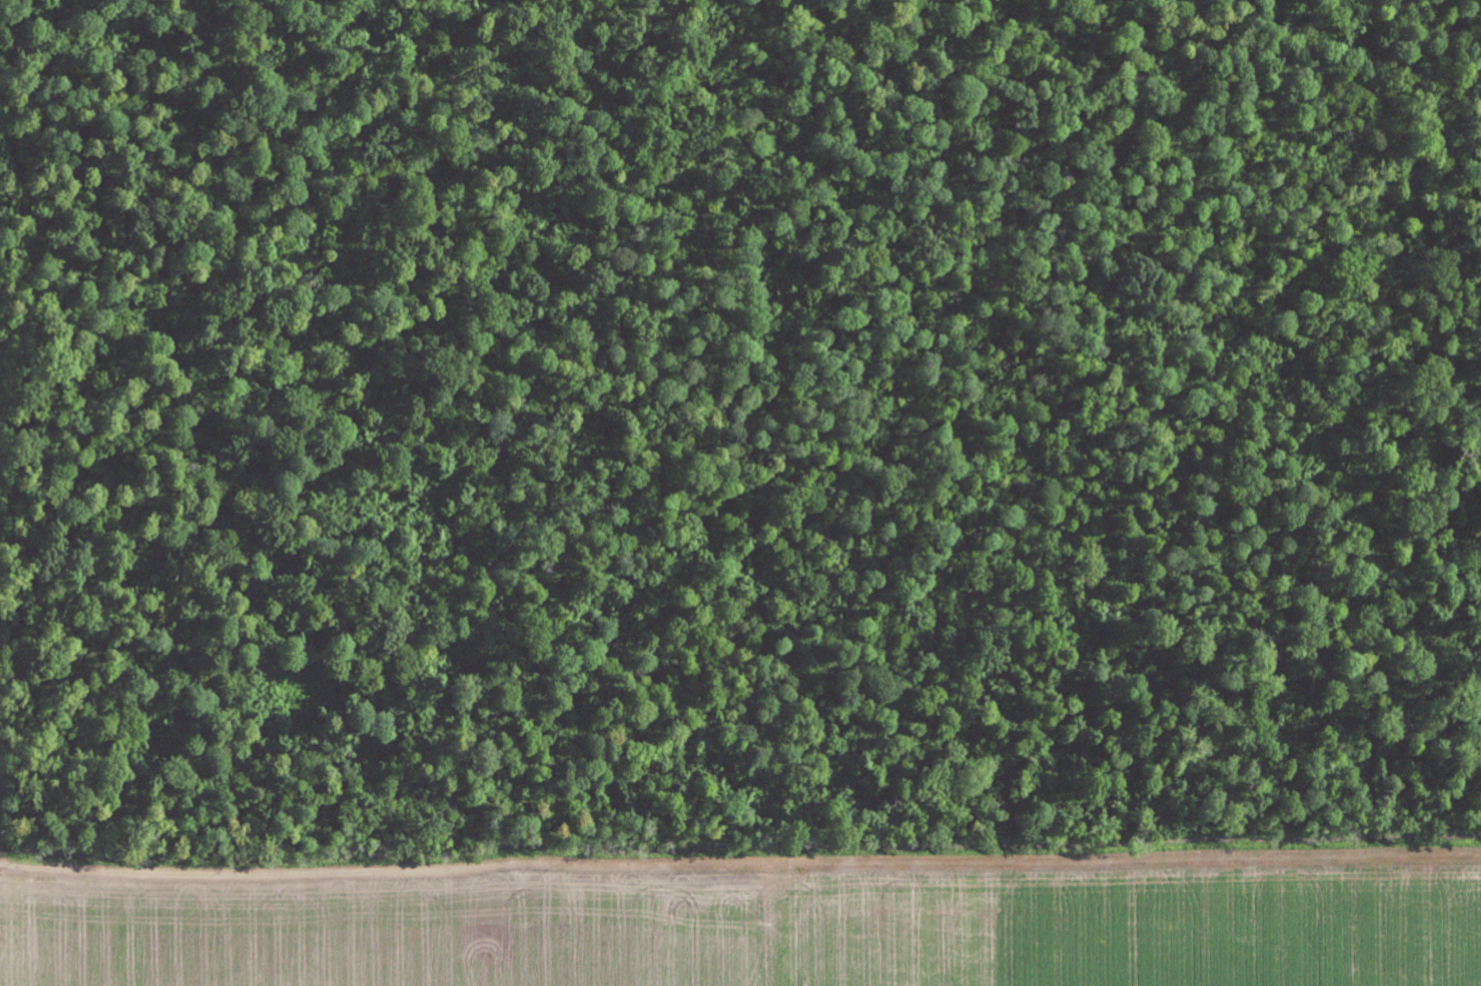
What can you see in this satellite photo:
park: (742, 416)

